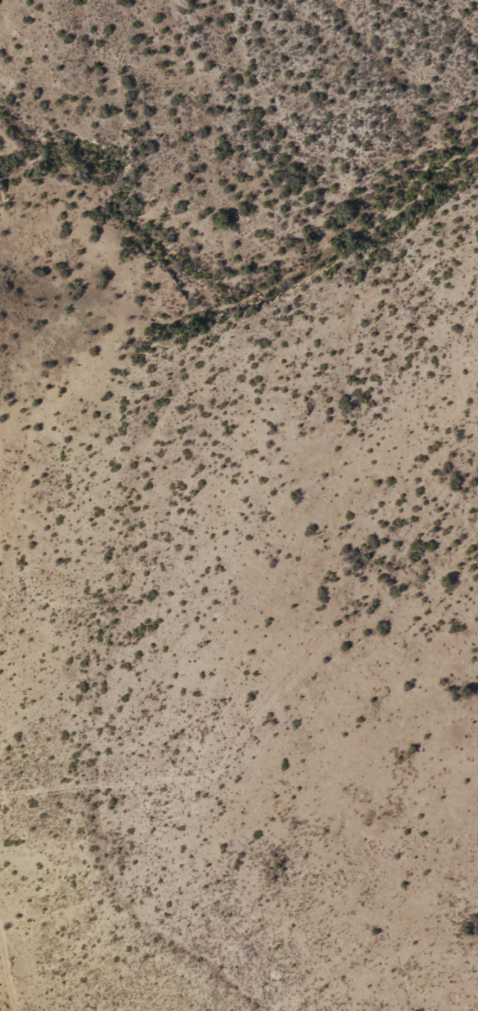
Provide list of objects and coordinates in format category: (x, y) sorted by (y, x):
road: (9, 1001)

